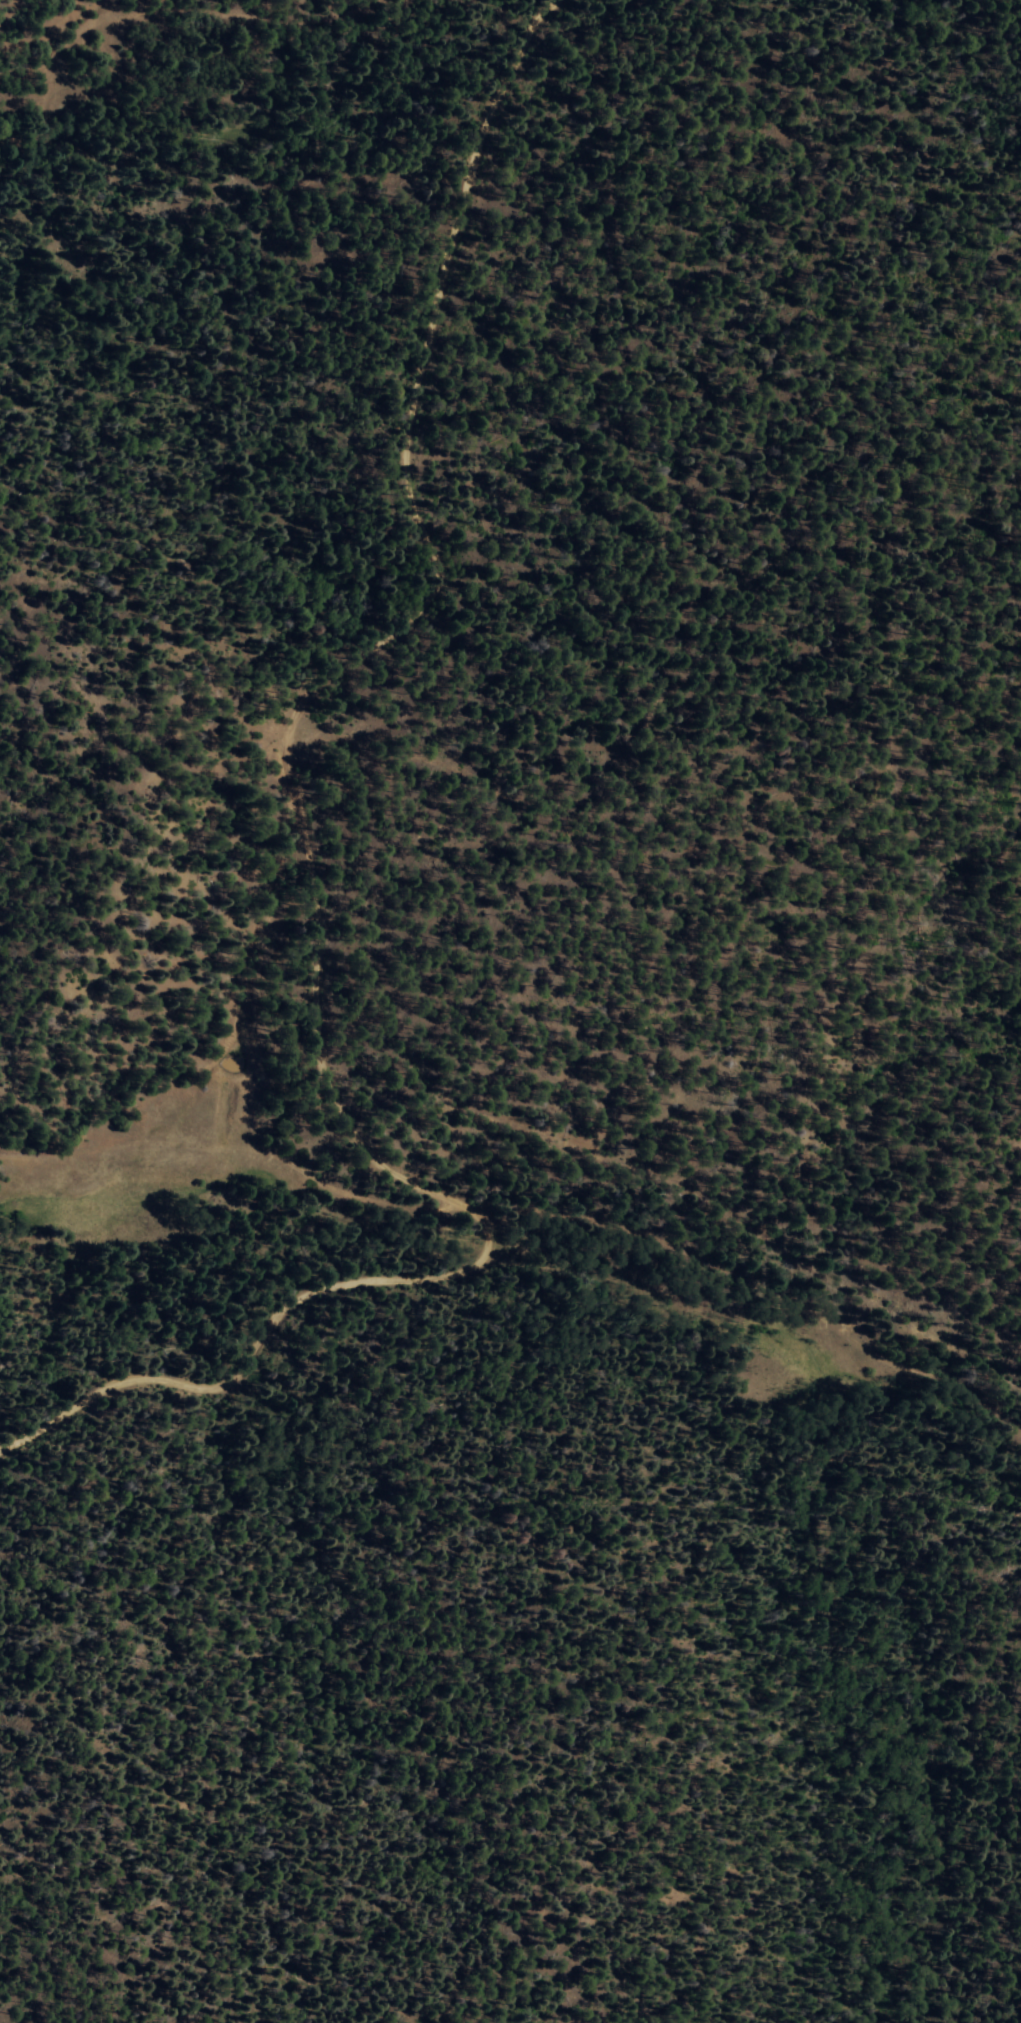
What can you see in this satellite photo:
road: (620, 829)

